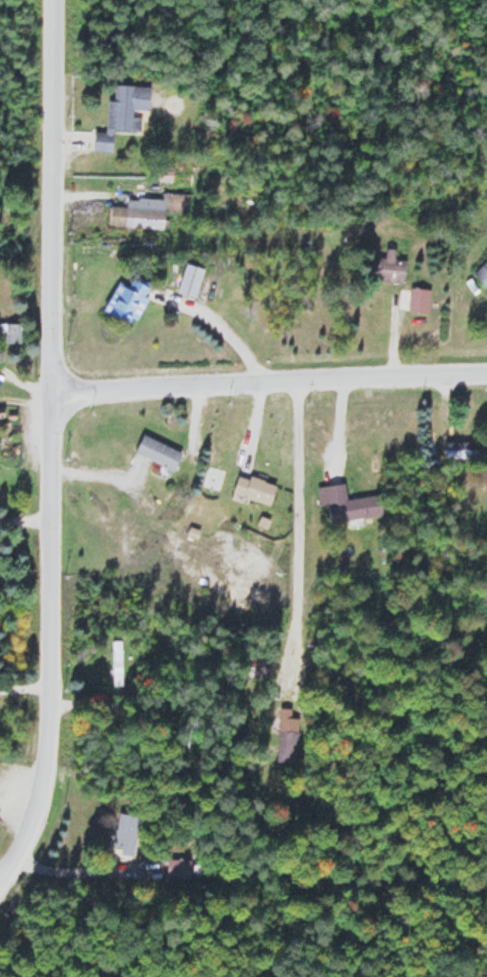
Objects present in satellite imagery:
building: (128, 107)
building: (165, 174)
road: (115, 189)
building: (147, 211)
building: (382, 266)
building: (482, 273)
building: (190, 279)
building: (128, 299)
building: (419, 300)
building: (13, 333)
road: (269, 379)
road: (51, 444)
building: (458, 450)
building: (158, 452)
building: (254, 489)
building: (348, 504)
building: (117, 663)
building: (258, 666)
building: (286, 736)
building: (125, 831)
building: (177, 869)
road: (1, 875)

